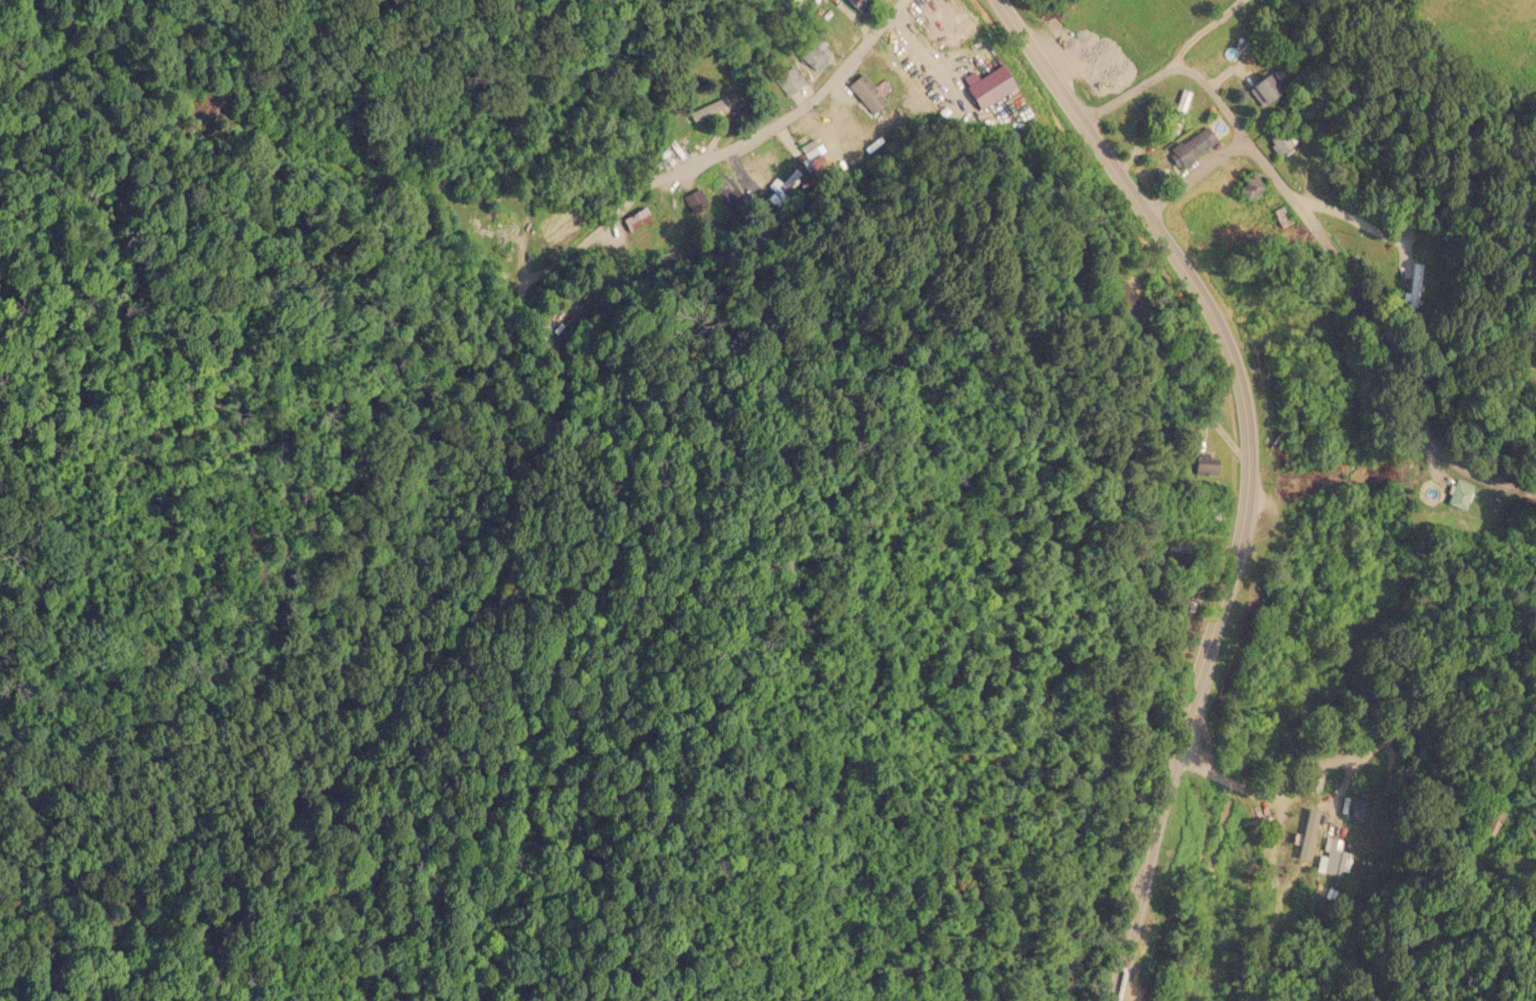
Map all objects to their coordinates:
building: (860, 3)
building: (1083, 40)
building: (960, 52)
building: (810, 55)
road: (1191, 71)
building: (789, 80)
building: (1265, 87)
building: (866, 93)
road: (805, 103)
building: (706, 109)
building: (1179, 111)
building: (1200, 140)
building: (1281, 142)
building: (813, 155)
building: (761, 172)
road: (1208, 174)
building: (1250, 186)
building: (721, 190)
building: (637, 218)
building: (1416, 286)
building: (1122, 299)
road: (1375, 339)
building: (1206, 463)
road: (1248, 474)
building: (1459, 493)
building: (1207, 507)
building: (1179, 539)
building: (1177, 601)
road: (1223, 782)
road: (1282, 800)
building: (1355, 808)
building: (1489, 821)
building: (1330, 855)

